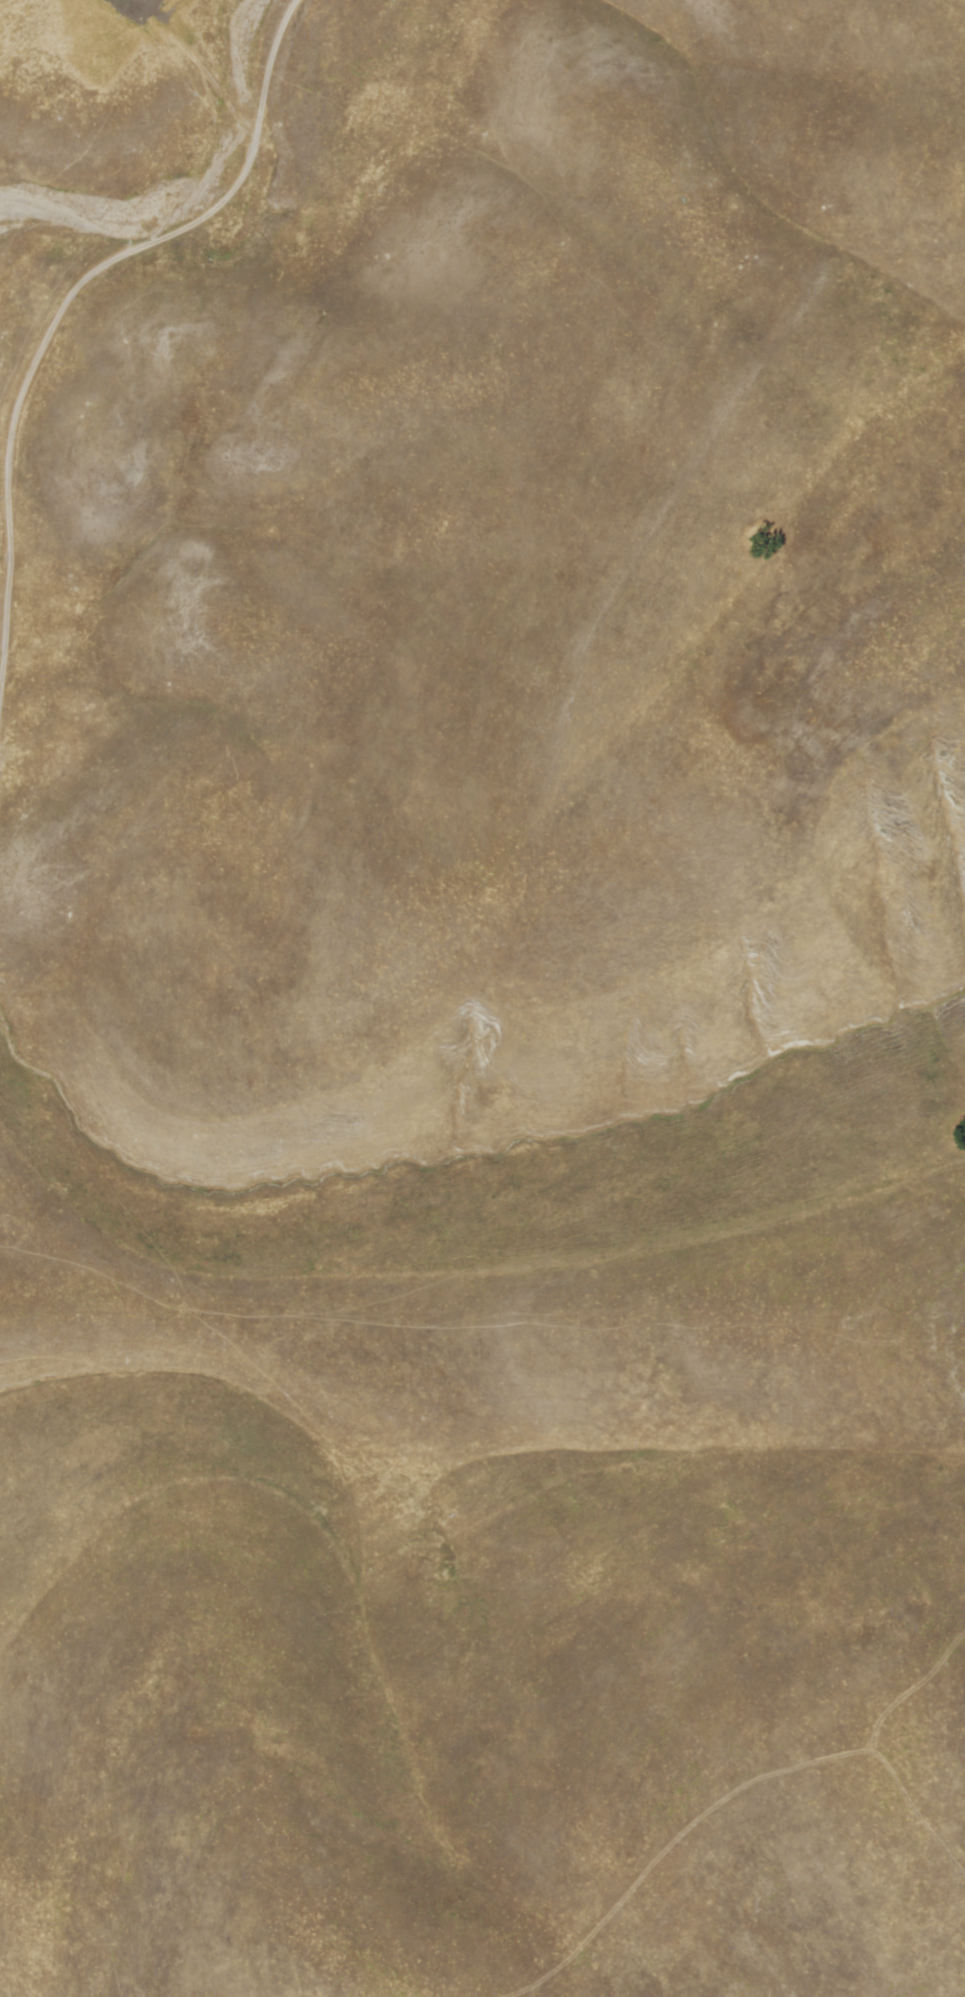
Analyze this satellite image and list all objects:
road: (75, 292)

